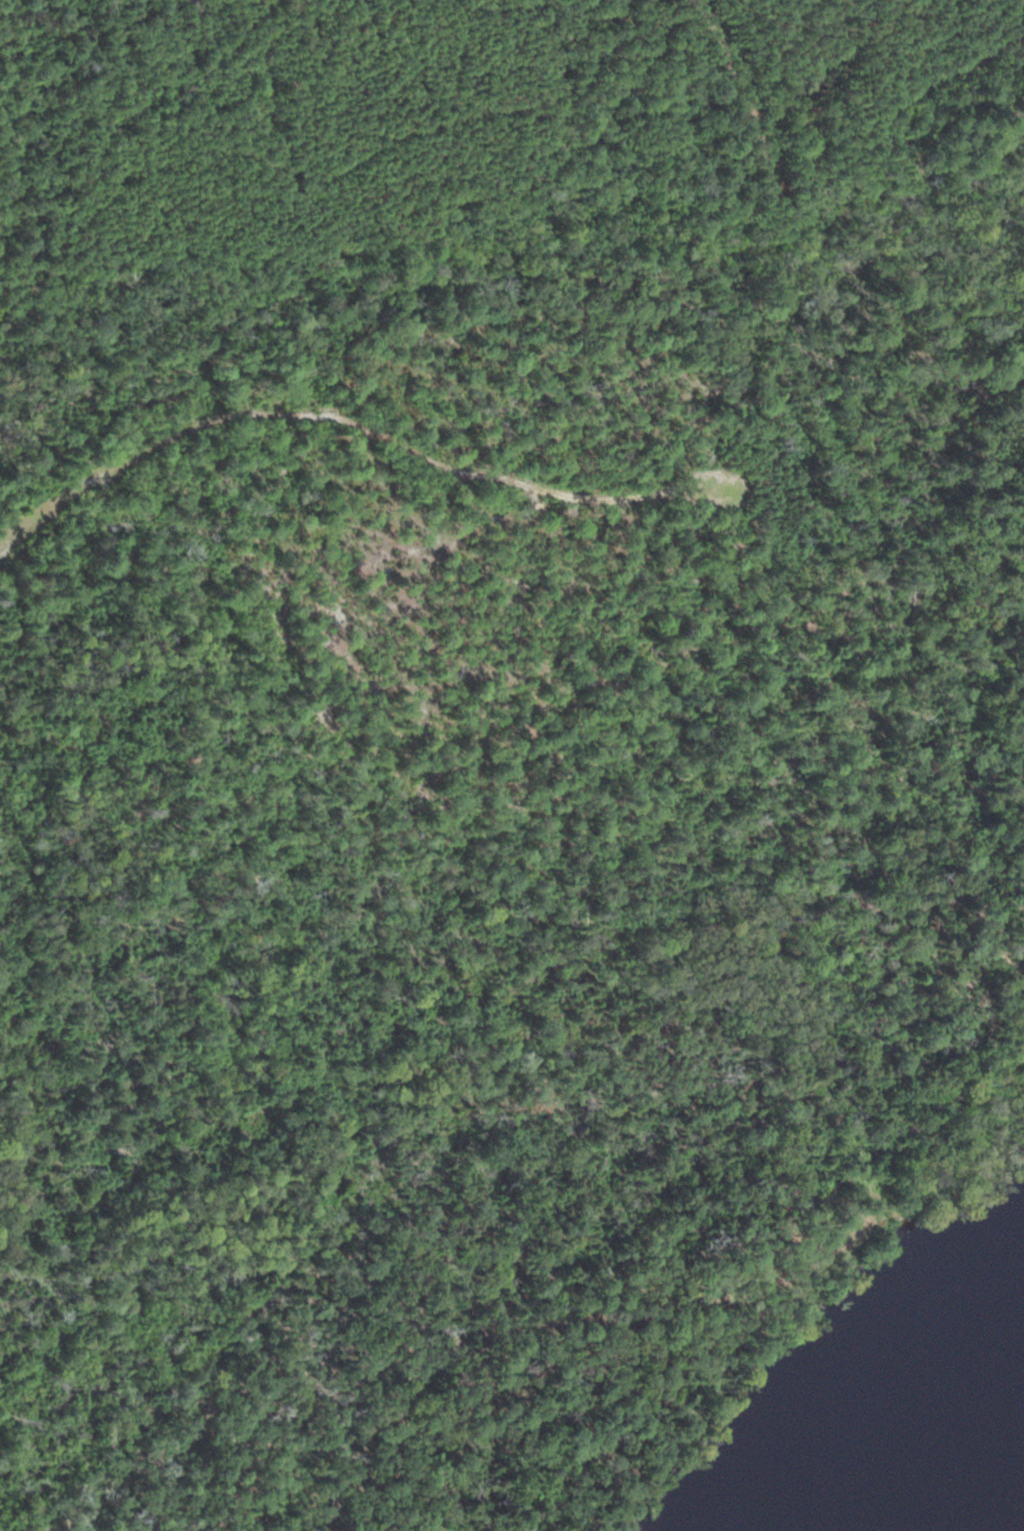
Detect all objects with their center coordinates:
road: (744, 111)
road: (333, 434)
river: (908, 1440)

